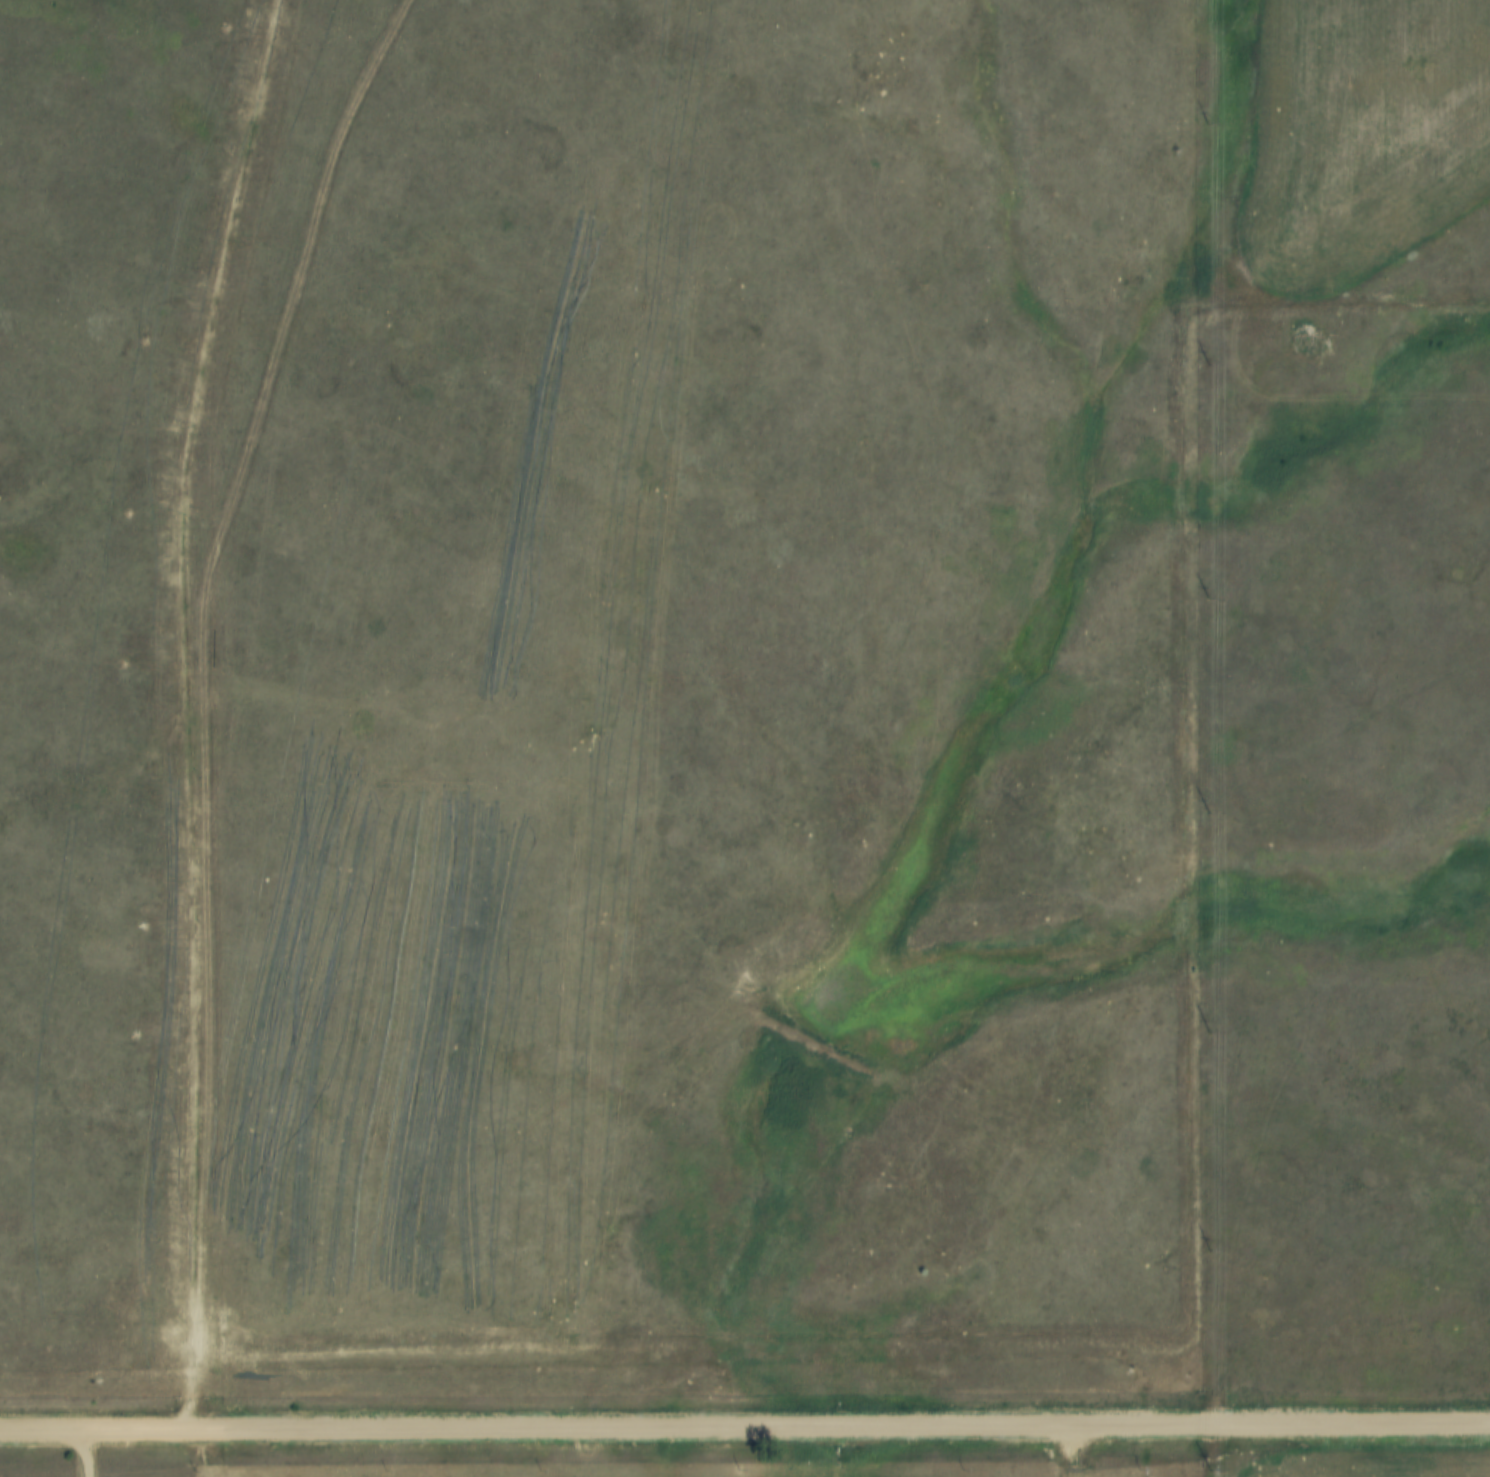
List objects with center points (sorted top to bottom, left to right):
road: (744, 1428)
road: (1072, 1452)
road: (85, 1453)

